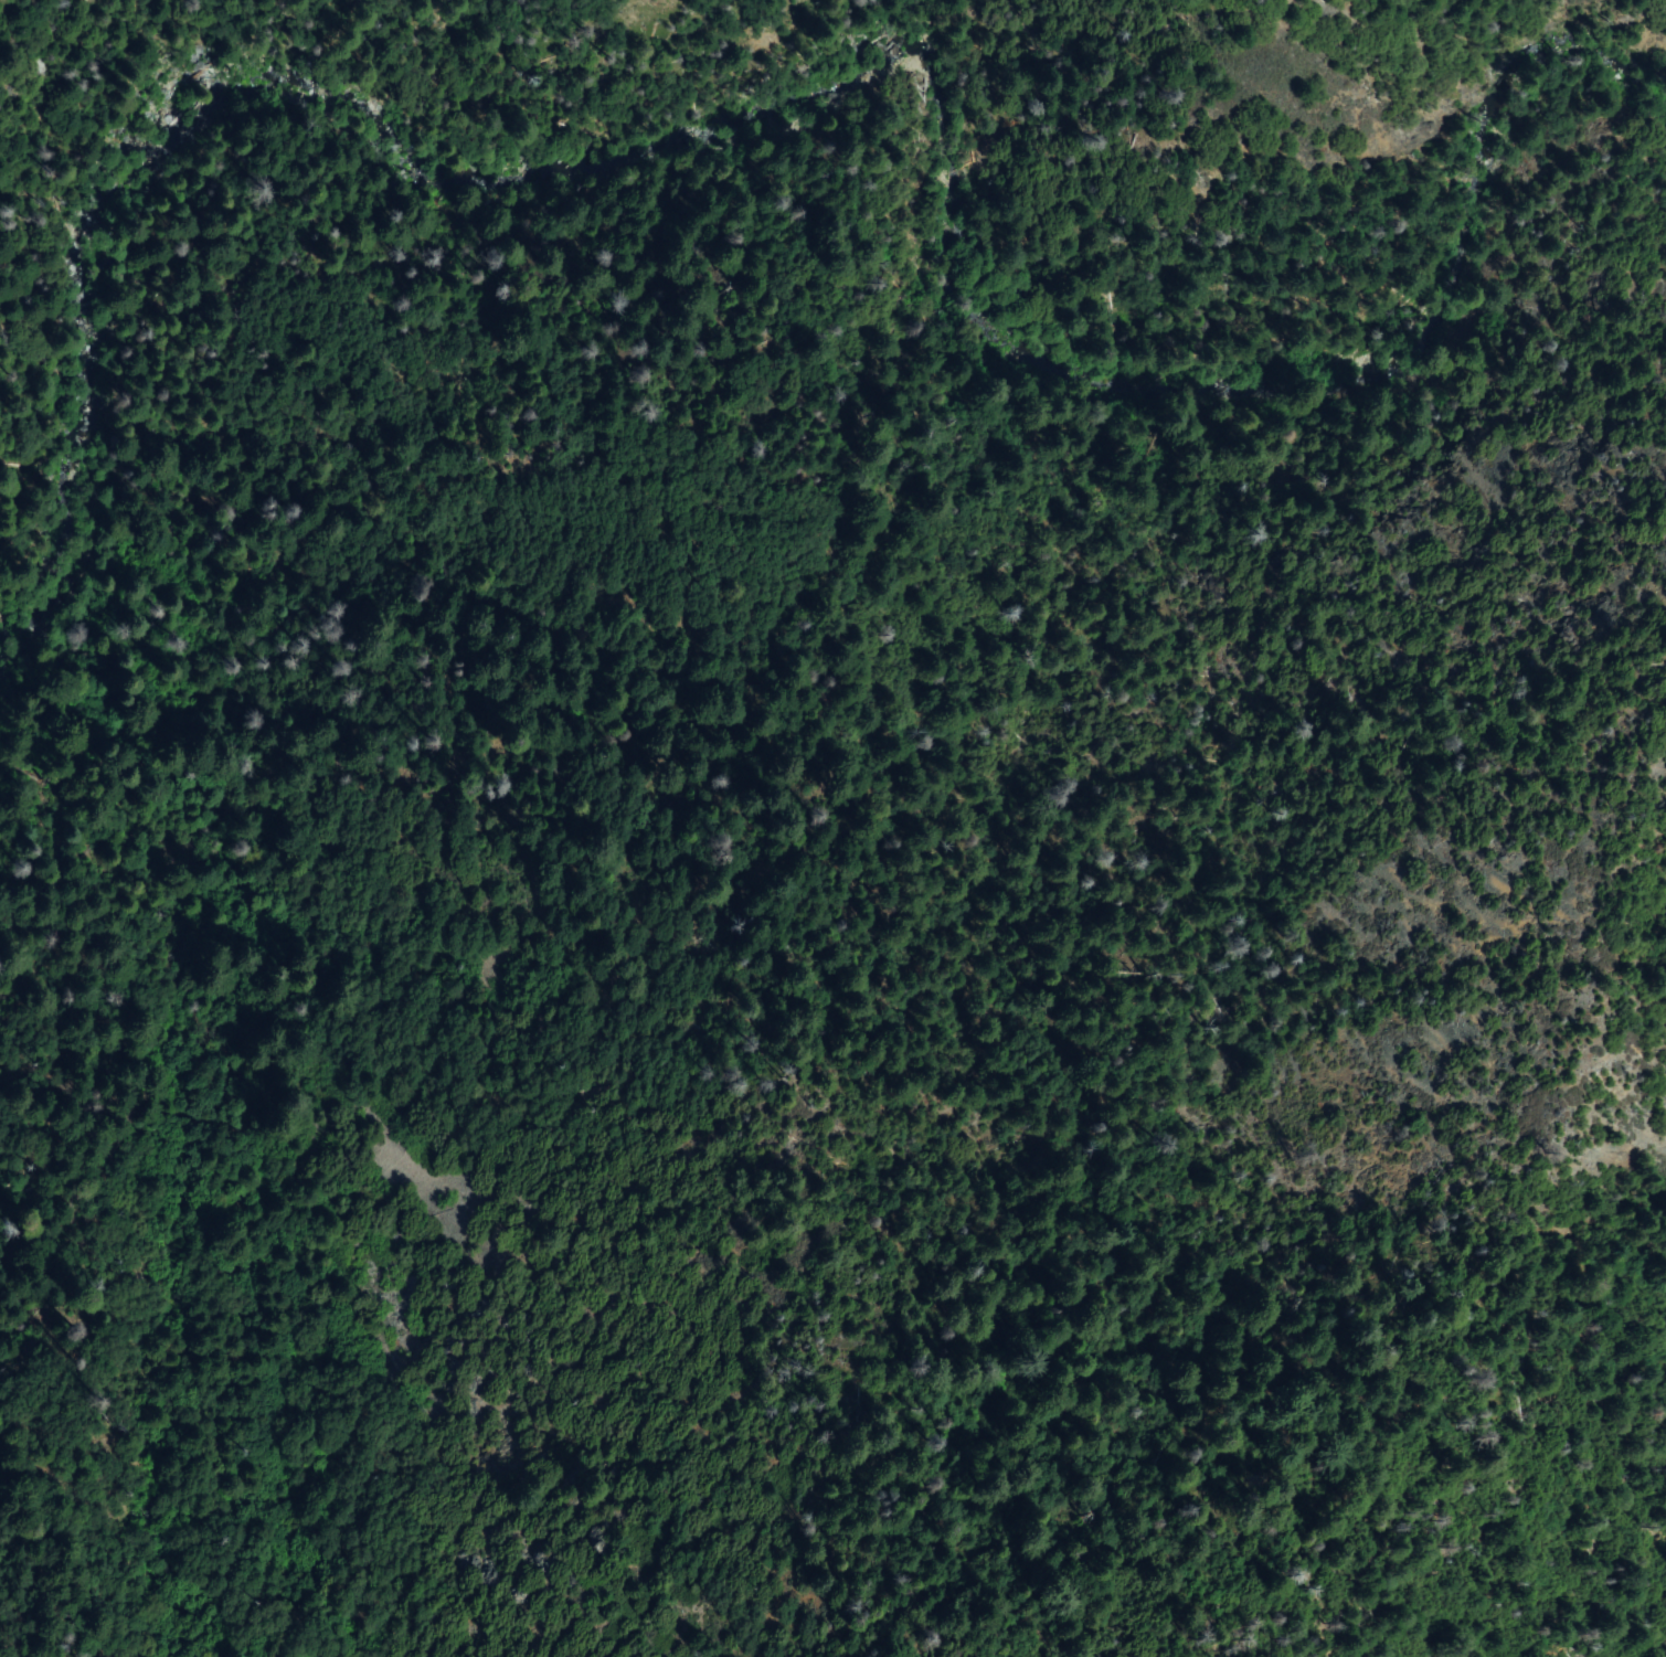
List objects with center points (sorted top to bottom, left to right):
river: (824, 108)

